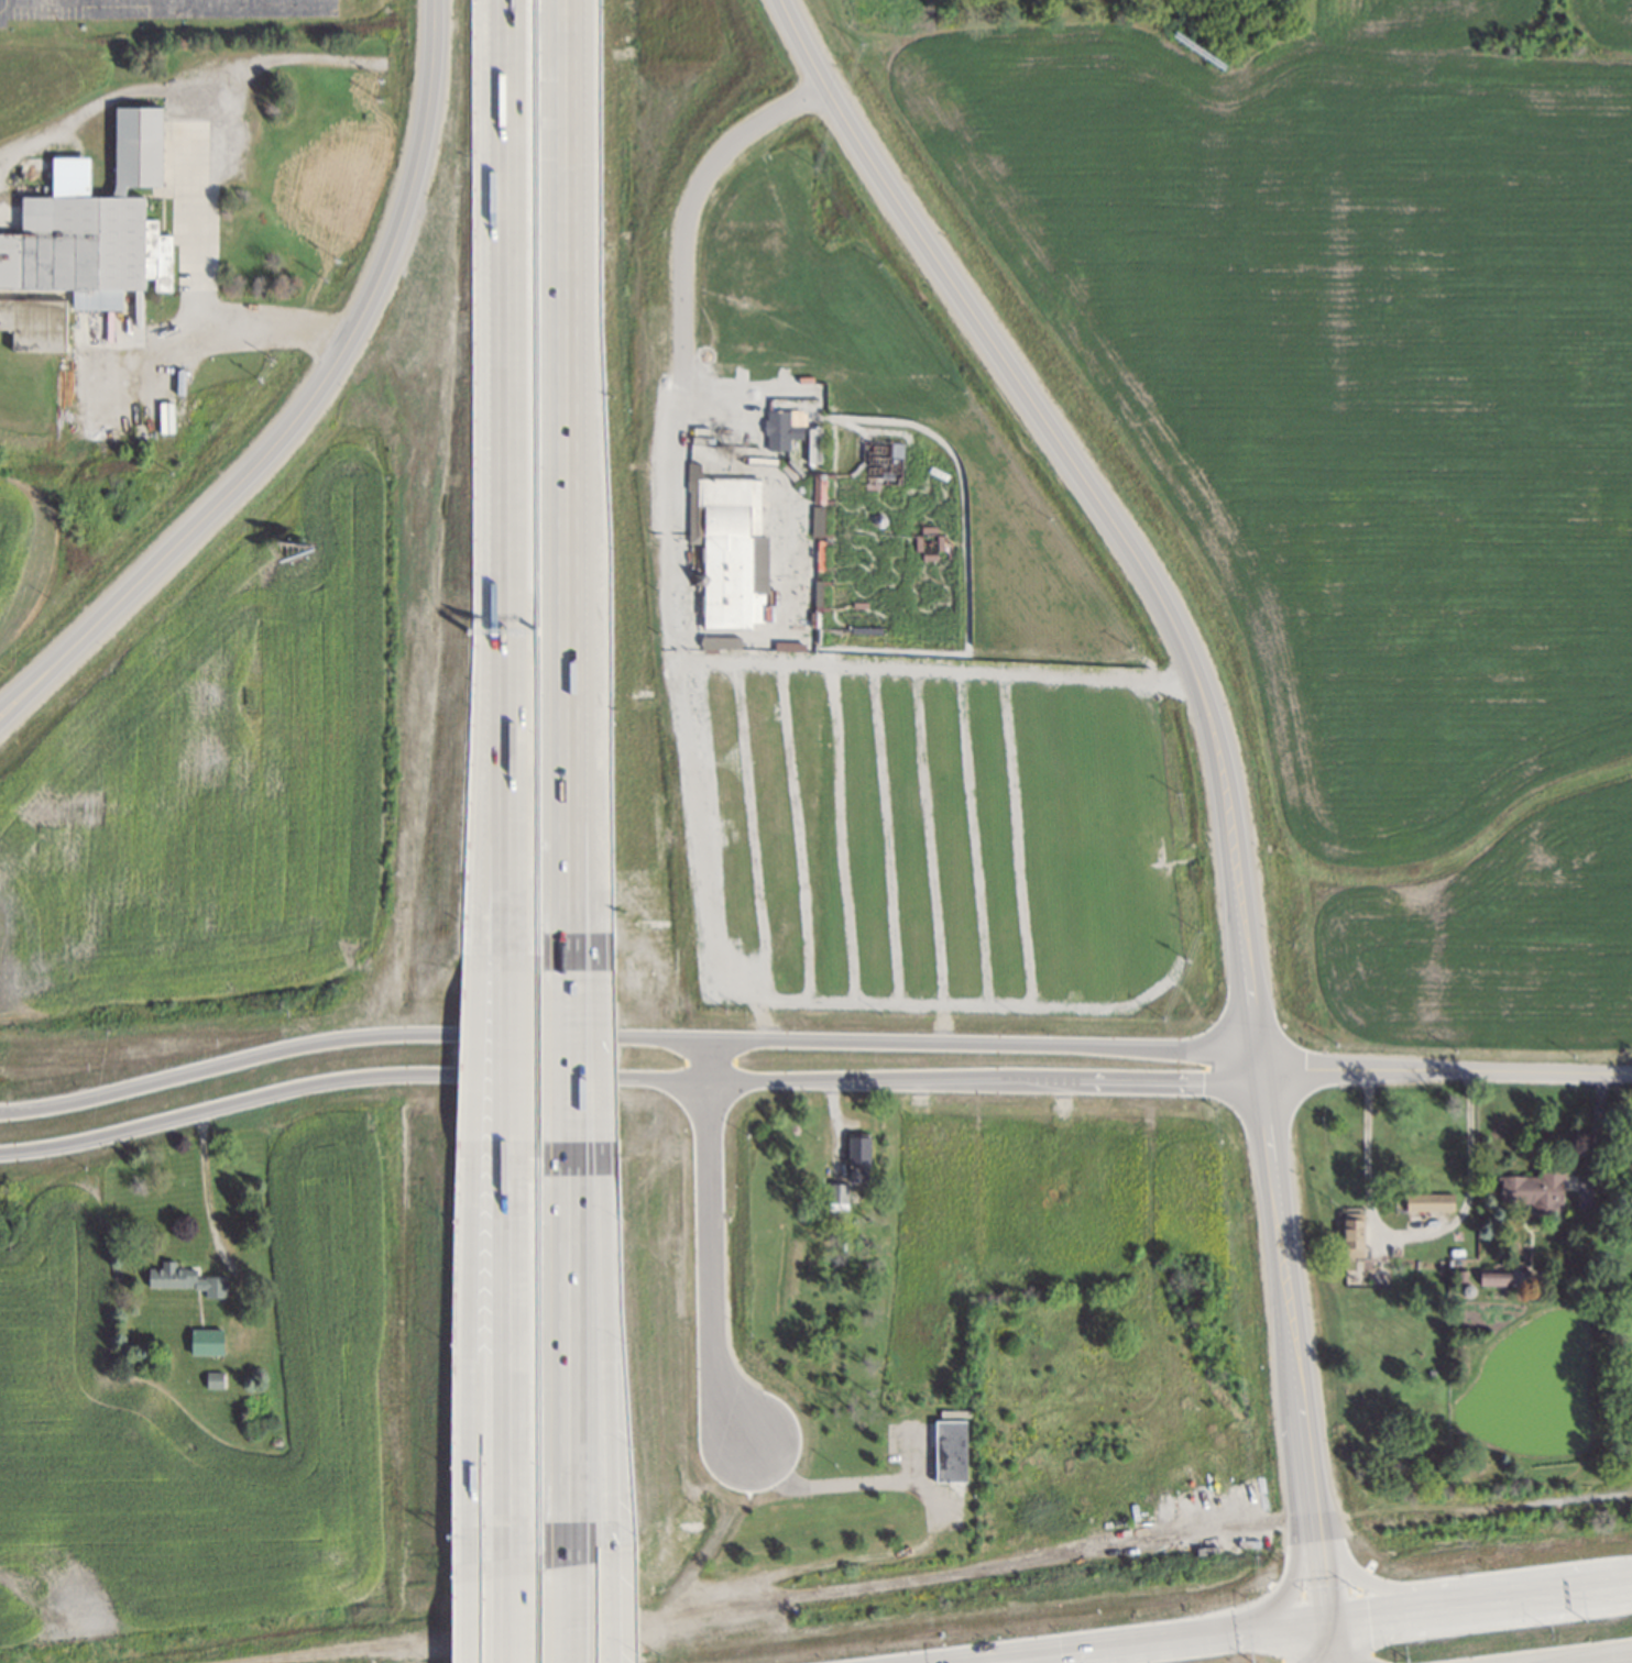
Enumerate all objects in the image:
airport taxiway: (4, 0)
road: (77, 8)
airport apron: (226, 8)
parking lot: (64, 10)
airport apron: (4, 11)
airport: (216, 14)
road: (209, 159)
building: (85, 243)
road: (574, 349)
road: (304, 406)
building: (781, 430)
crop: (1368, 443)
building: (815, 444)
road: (504, 484)
building: (820, 487)
road: (682, 497)
road: (1106, 499)
parking lot: (686, 503)
building: (819, 520)
building: (731, 554)
road: (579, 833)
parking lot: (943, 835)
road: (627, 1035)
road: (581, 1058)
road: (504, 1062)
road: (1447, 1070)
road: (628, 1073)
building: (859, 1157)
road: (206, 1187)
building: (1534, 1190)
building: (840, 1192)
road: (1278, 1201)
building: (1431, 1202)
building: (1355, 1235)
road: (1413, 1235)
road: (712, 1243)
building: (1503, 1276)
building: (187, 1279)
building: (207, 1341)
road: (610, 1347)
road: (574, 1352)
road: (502, 1365)
road: (482, 1366)
building: (216, 1379)
road: (1306, 1442)
building: (952, 1451)
road: (825, 1484)
road: (1290, 1490)
road: (1469, 1579)
road: (1326, 1582)
road: (1481, 1600)
road: (615, 1606)
road: (566, 1609)
road: (500, 1617)
road: (470, 1619)
traffic signals: (1332, 1619)
road: (1173, 1637)
road: (1334, 1641)
traffic signals: (1015, 1654)
traffic signals: (979, 1656)
road: (963, 1658)
road: (1015, 1659)
road: (1602, 1659)
road: (979, 1660)

